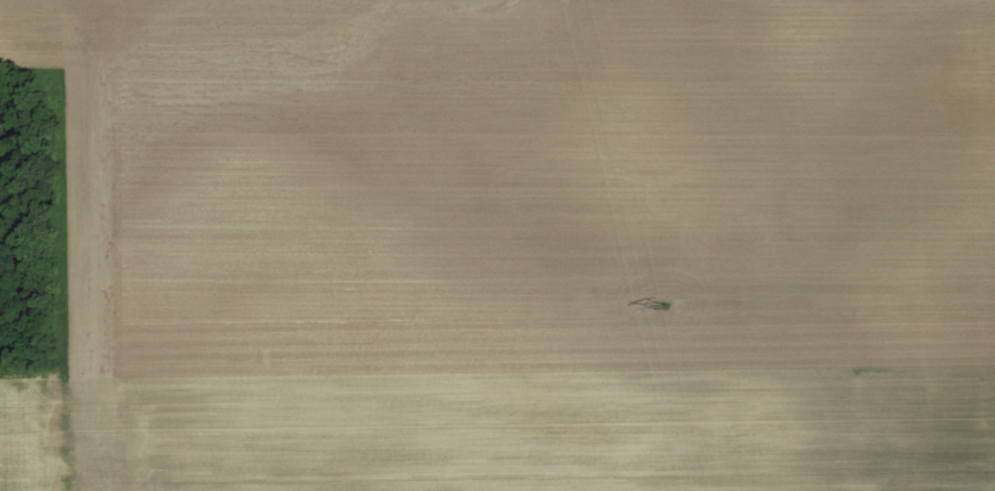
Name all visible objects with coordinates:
power tower: (659, 307)

